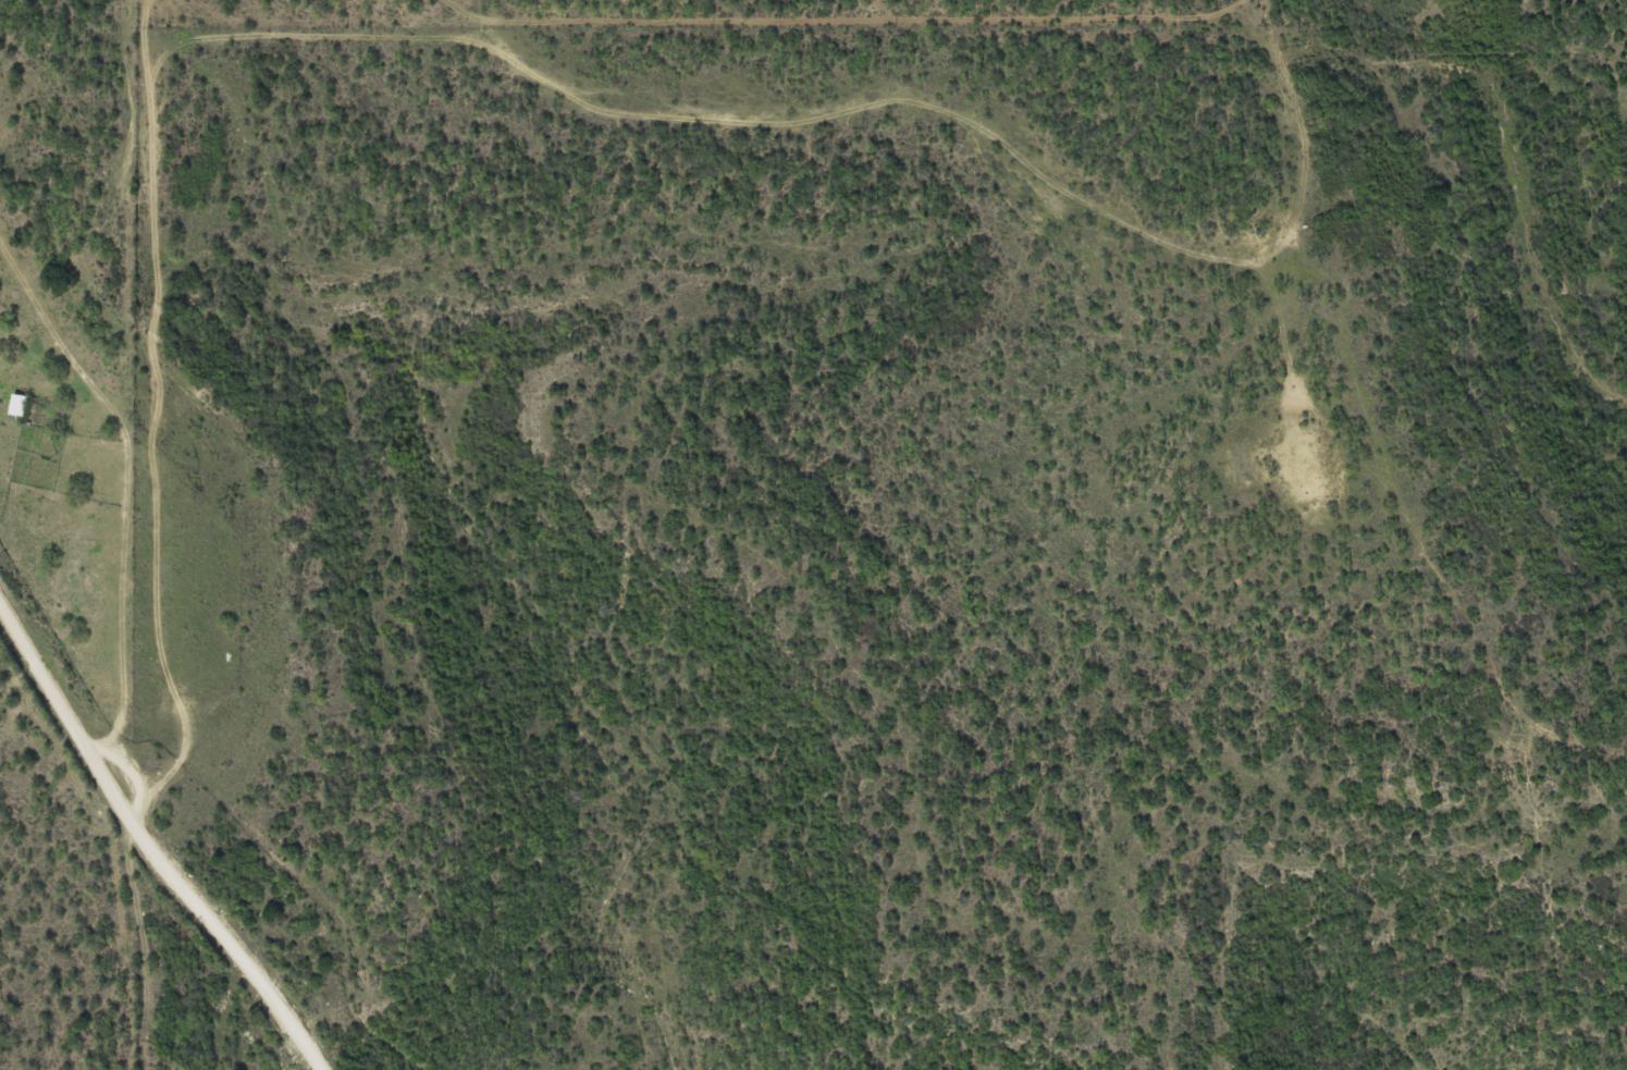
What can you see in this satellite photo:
road: (124, 538)
road: (131, 771)
road: (149, 848)

